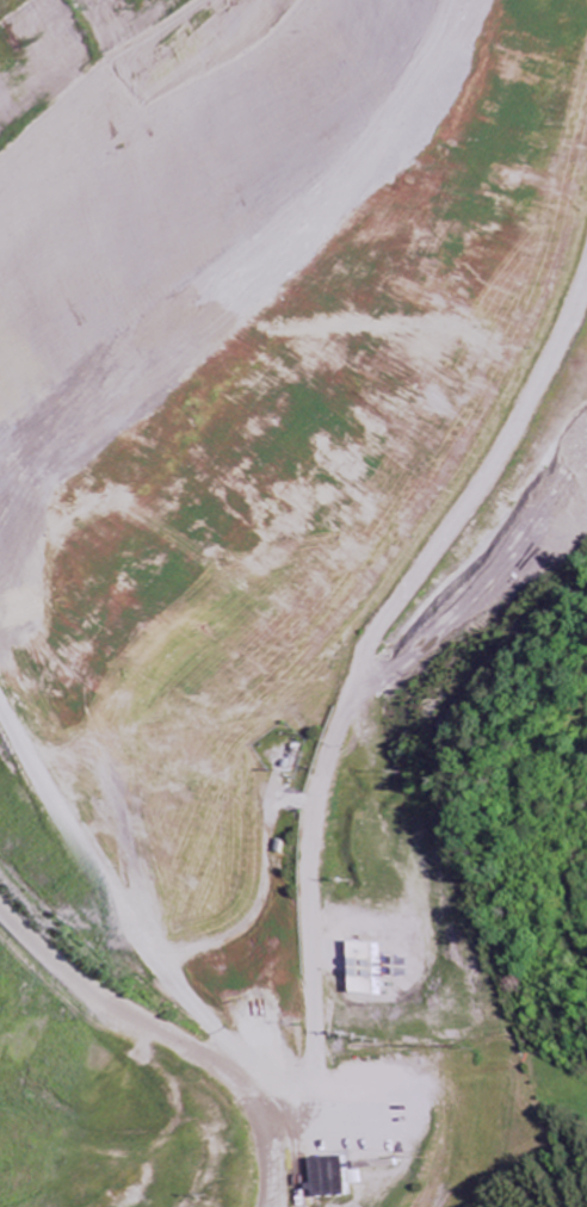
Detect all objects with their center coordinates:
road: (45, 441)
landfill: (274, 578)
road: (351, 706)
road: (99, 858)
building: (366, 970)
road: (126, 1019)
road: (260, 1160)
building: (315, 1178)

